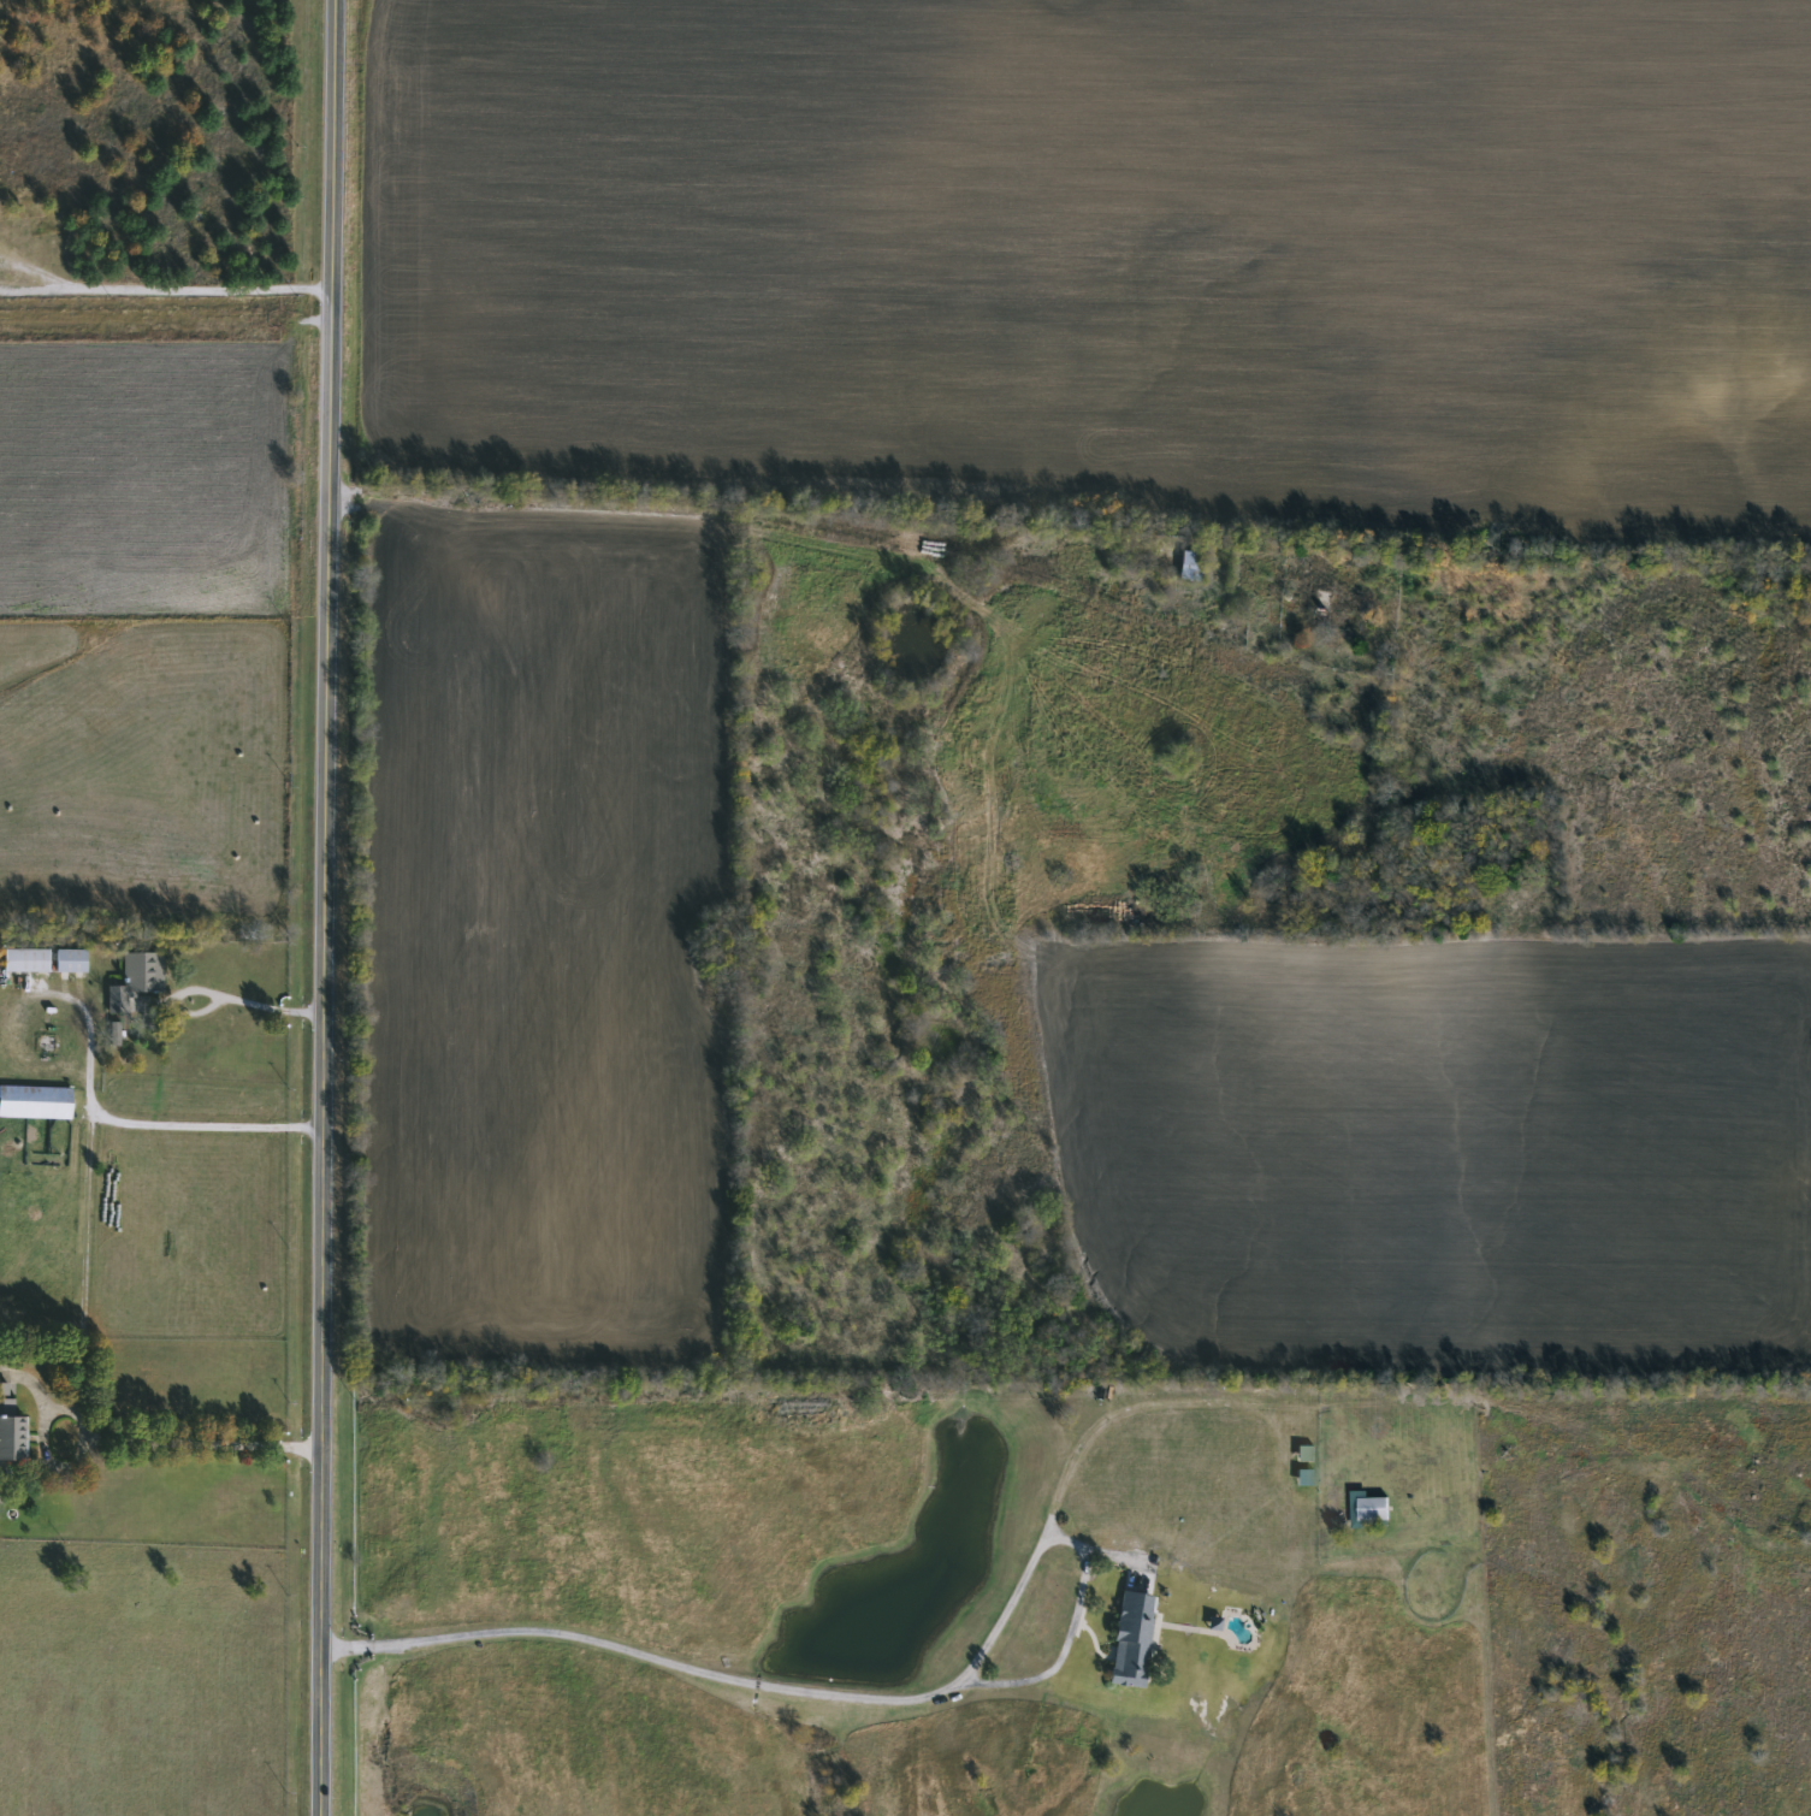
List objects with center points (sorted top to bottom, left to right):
road: (165, 290)
road: (800, 528)
building: (1185, 566)
building: (1237, 574)
building: (1419, 580)
building: (1328, 616)
road: (324, 907)
building: (23, 962)
building: (65, 962)
building: (141, 974)
road: (218, 994)
road: (90, 1039)
building: (34, 1102)
road: (207, 1124)
road: (83, 1278)
building: (6, 1441)
road: (203, 1445)
road: (1075, 1467)
building: (1363, 1512)
building: (1128, 1640)
road: (343, 1651)
road: (665, 1662)

